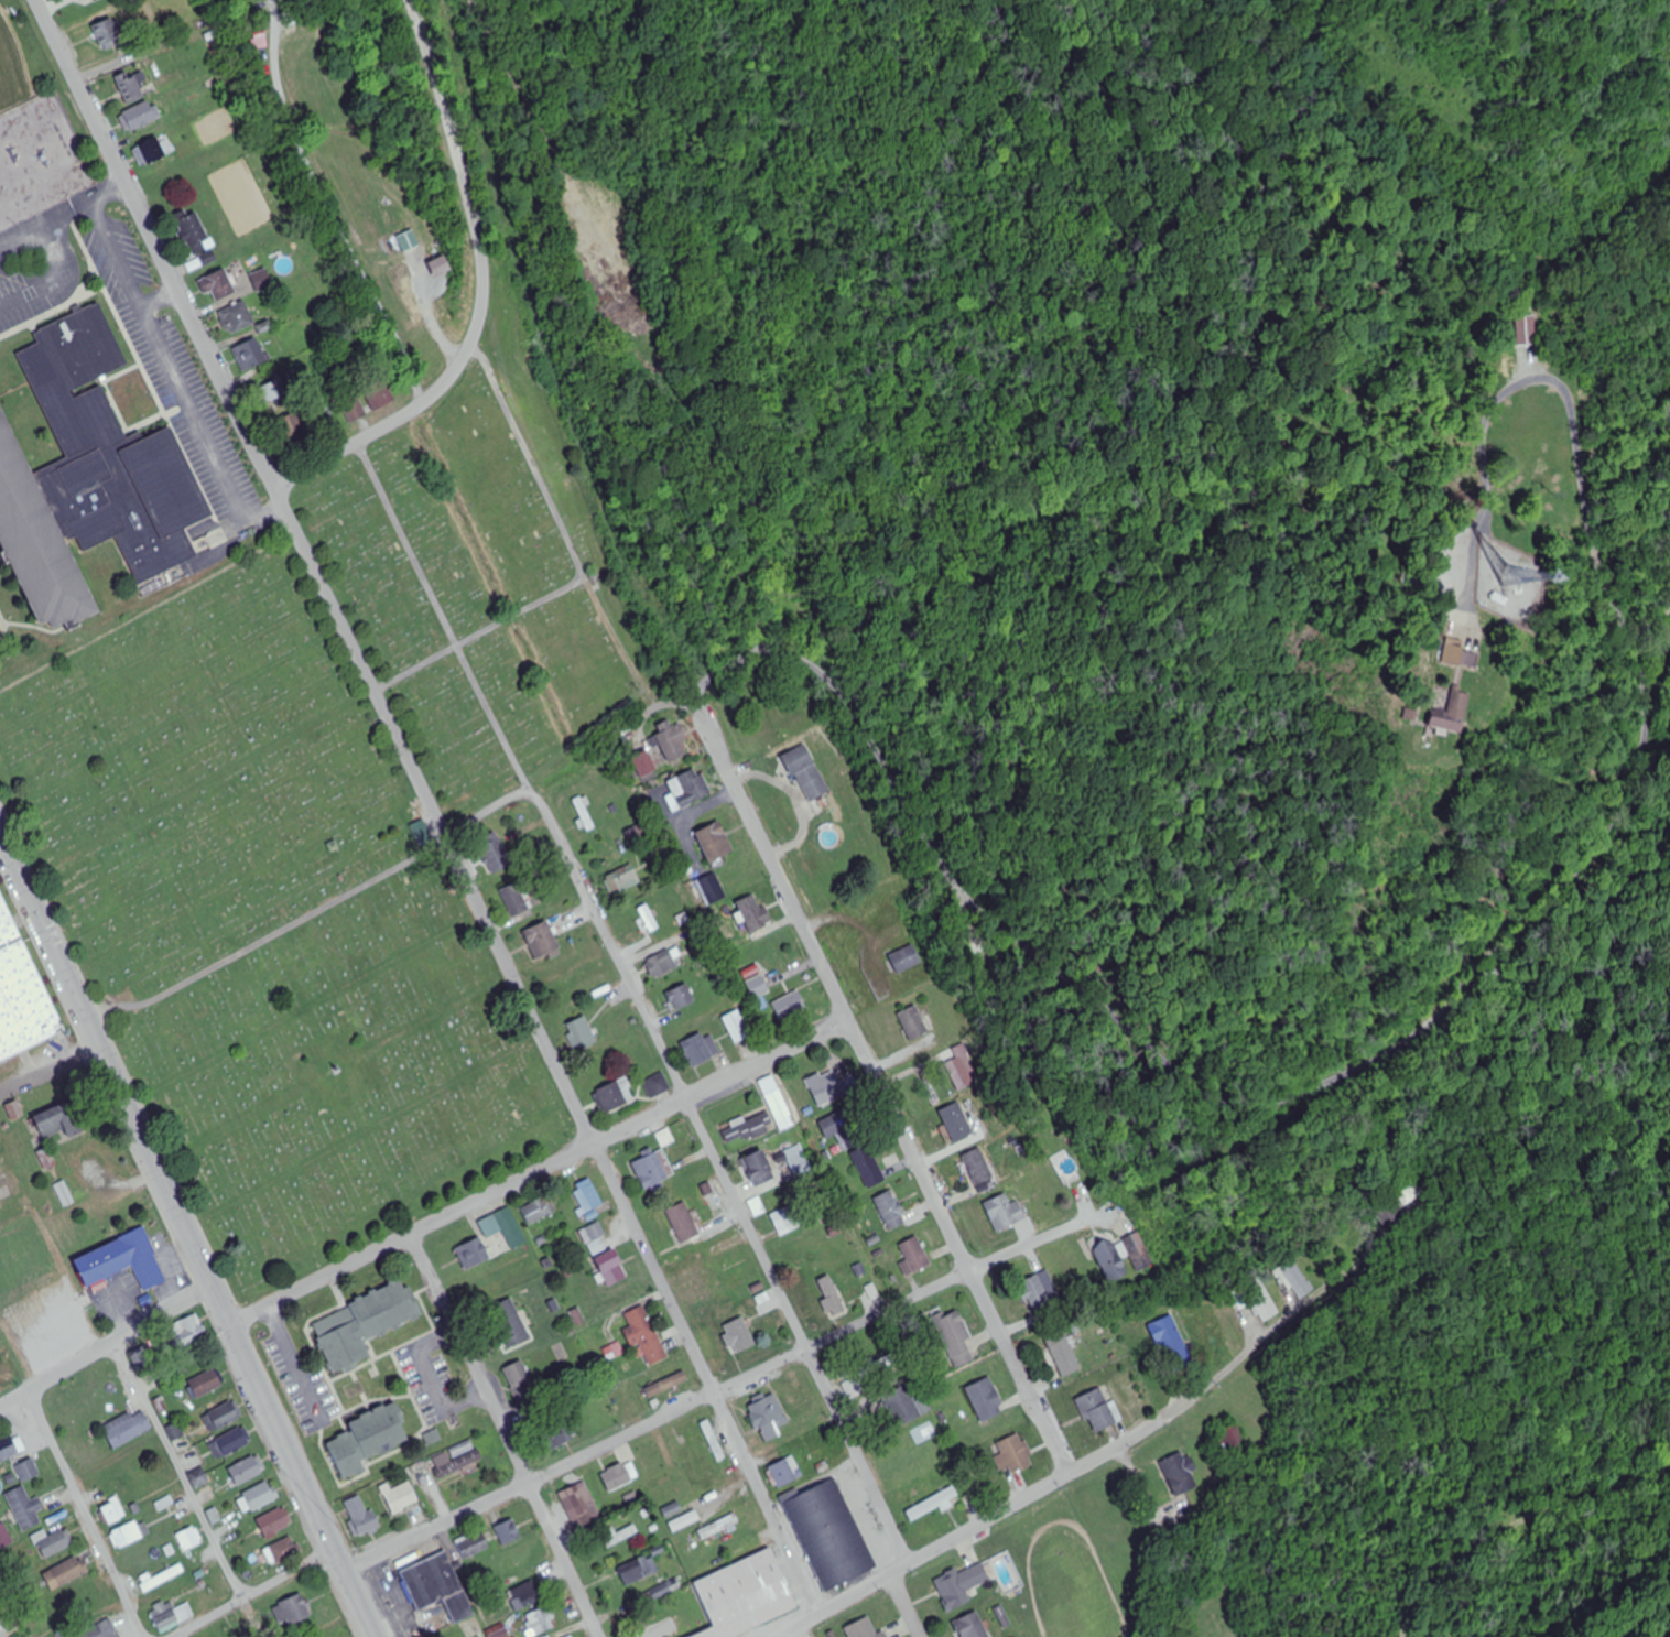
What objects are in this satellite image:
building: (109, 33)
road: (109, 64)
park: (12, 71)
building: (130, 87)
building: (142, 116)
building: (152, 151)
road: (328, 204)
road: (63, 218)
building: (195, 235)
building: (410, 241)
road: (122, 251)
road: (53, 280)
building: (262, 281)
building: (218, 285)
road: (484, 292)
road: (162, 297)
building: (237, 318)
building: (1526, 330)
building: (250, 355)
building: (274, 391)
building: (380, 395)
building: (354, 409)
road: (207, 430)
building: (294, 430)
building: (90, 478)
road: (1585, 528)
building: (440, 559)
building: (1447, 722)
building: (673, 742)
building: (646, 765)
building: (813, 779)
building: (687, 789)
road: (426, 805)
road: (487, 815)
park: (337, 821)
building: (422, 831)
building: (716, 842)
building: (495, 854)
building: (621, 876)
road: (25, 885)
building: (713, 889)
building: (517, 898)
building: (755, 912)
building: (542, 940)
building: (908, 960)
building: (662, 964)
building: (760, 987)
flagpole: (105, 994)
building: (22, 995)
building: (682, 997)
road: (636, 1002)
building: (790, 1006)
road: (1066, 1013)
building: (918, 1022)
building: (737, 1026)
building: (581, 1033)
building: (697, 1050)
building: (658, 1085)
building: (826, 1085)
road: (888, 1092)
building: (611, 1097)
building: (781, 1109)
building: (58, 1115)
building: (957, 1121)
building: (747, 1129)
building: (848, 1130)
building: (666, 1138)
building: (48, 1157)
building: (799, 1160)
road: (540, 1166)
building: (979, 1166)
building: (869, 1167)
building: (761, 1168)
building: (651, 1170)
building: (65, 1191)
building: (588, 1196)
building: (539, 1210)
building: (892, 1210)
building: (1007, 1212)
building: (785, 1222)
building: (683, 1223)
building: (511, 1228)
building: (595, 1237)
road: (195, 1245)
building: (1139, 1250)
building: (473, 1254)
building: (123, 1256)
building: (915, 1257)
building: (1113, 1259)
building: (611, 1268)
building: (698, 1282)
building: (1034, 1293)
building: (820, 1298)
building: (1265, 1303)
building: (360, 1322)
building: (510, 1324)
building: (191, 1330)
building: (729, 1335)
building: (644, 1336)
building: (957, 1340)
building: (1173, 1345)
road: (108, 1347)
building: (1065, 1355)
road: (295, 1366)
road: (431, 1381)
building: (207, 1384)
building: (523, 1386)
building: (668, 1386)
road: (731, 1388)
building: (987, 1400)
building: (906, 1406)
building: (867, 1407)
building: (1098, 1411)
building: (226, 1418)
building: (769, 1419)
building: (128, 1428)
road: (509, 1433)
building: (559, 1435)
building: (369, 1437)
building: (1228, 1440)
building: (235, 1441)
building: (715, 1444)
building: (8, 1446)
building: (1013, 1456)
building: (456, 1460)
road: (184, 1466)
road: (1086, 1466)
building: (28, 1471)
building: (247, 1471)
building: (782, 1474)
building: (1180, 1474)
building: (618, 1477)
building: (261, 1496)
building: (576, 1496)
building: (400, 1497)
building: (937, 1502)
road: (1512, 1502)
building: (24, 1508)
building: (113, 1510)
building: (672, 1510)
road: (87, 1515)
building: (275, 1522)
building: (685, 1522)
building: (369, 1524)
building: (719, 1527)
building: (829, 1531)
building: (509, 1532)
building: (129, 1535)
building: (4, 1537)
building: (188, 1538)
building: (55, 1542)
building: (474, 1546)
street lamp: (358, 1549)
building: (282, 1551)
building: (637, 1571)
building: (66, 1573)
building: (980, 1574)
building: (161, 1578)
building: (437, 1584)
road: (253, 1589)
building: (953, 1591)
road: (362, 1592)
building: (745, 1592)
road: (908, 1604)
building: (293, 1611)
building: (542, 1620)
building: (2, 1624)
building: (973, 1626)
building: (497, 1629)
building: (864, 1629)
building: (101, 1630)
building: (662, 1631)

